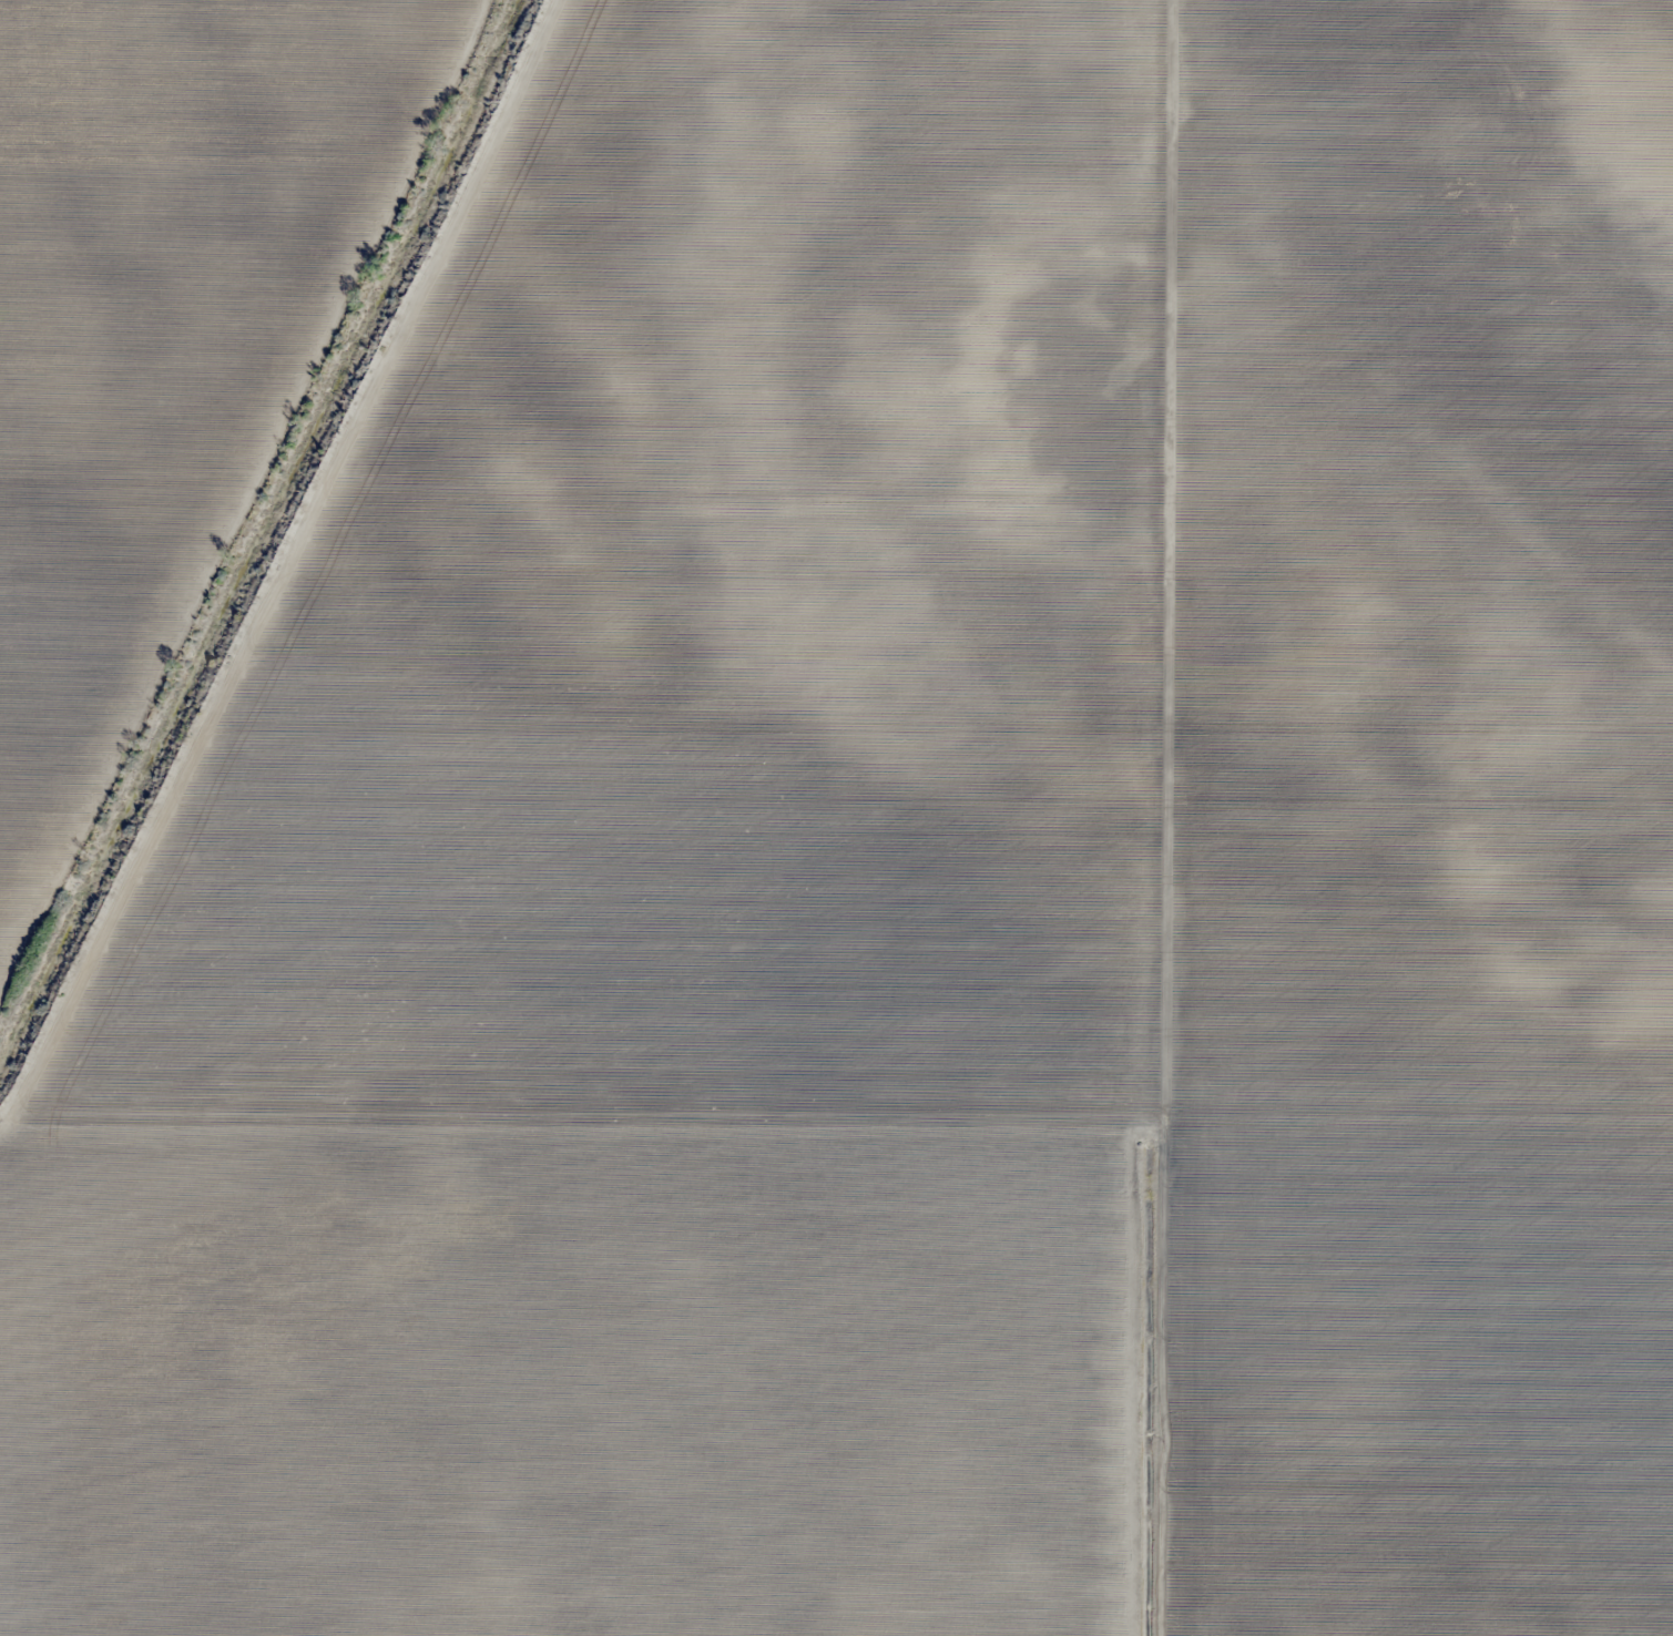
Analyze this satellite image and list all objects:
road: (1139, 1408)

